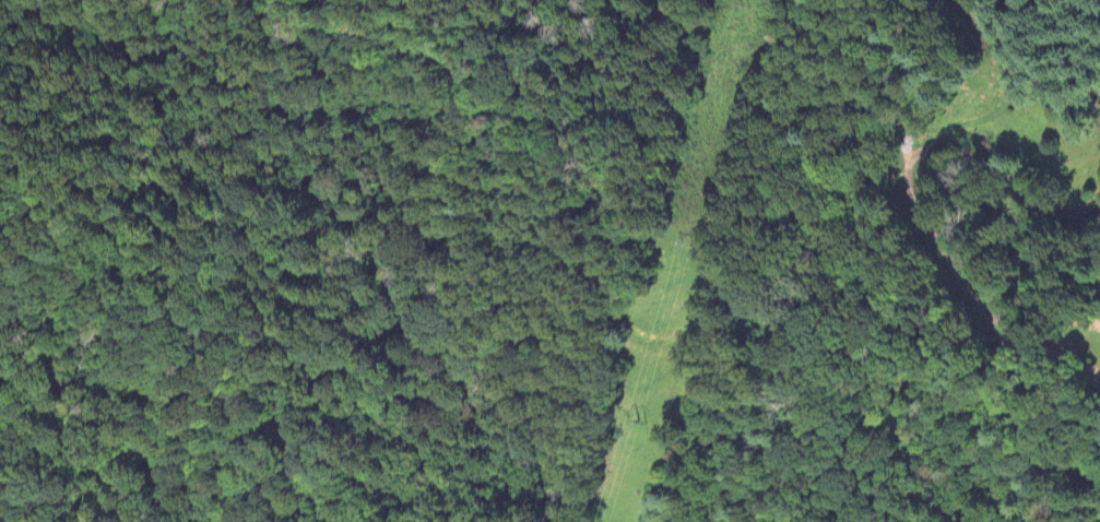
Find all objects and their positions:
road: (909, 192)

